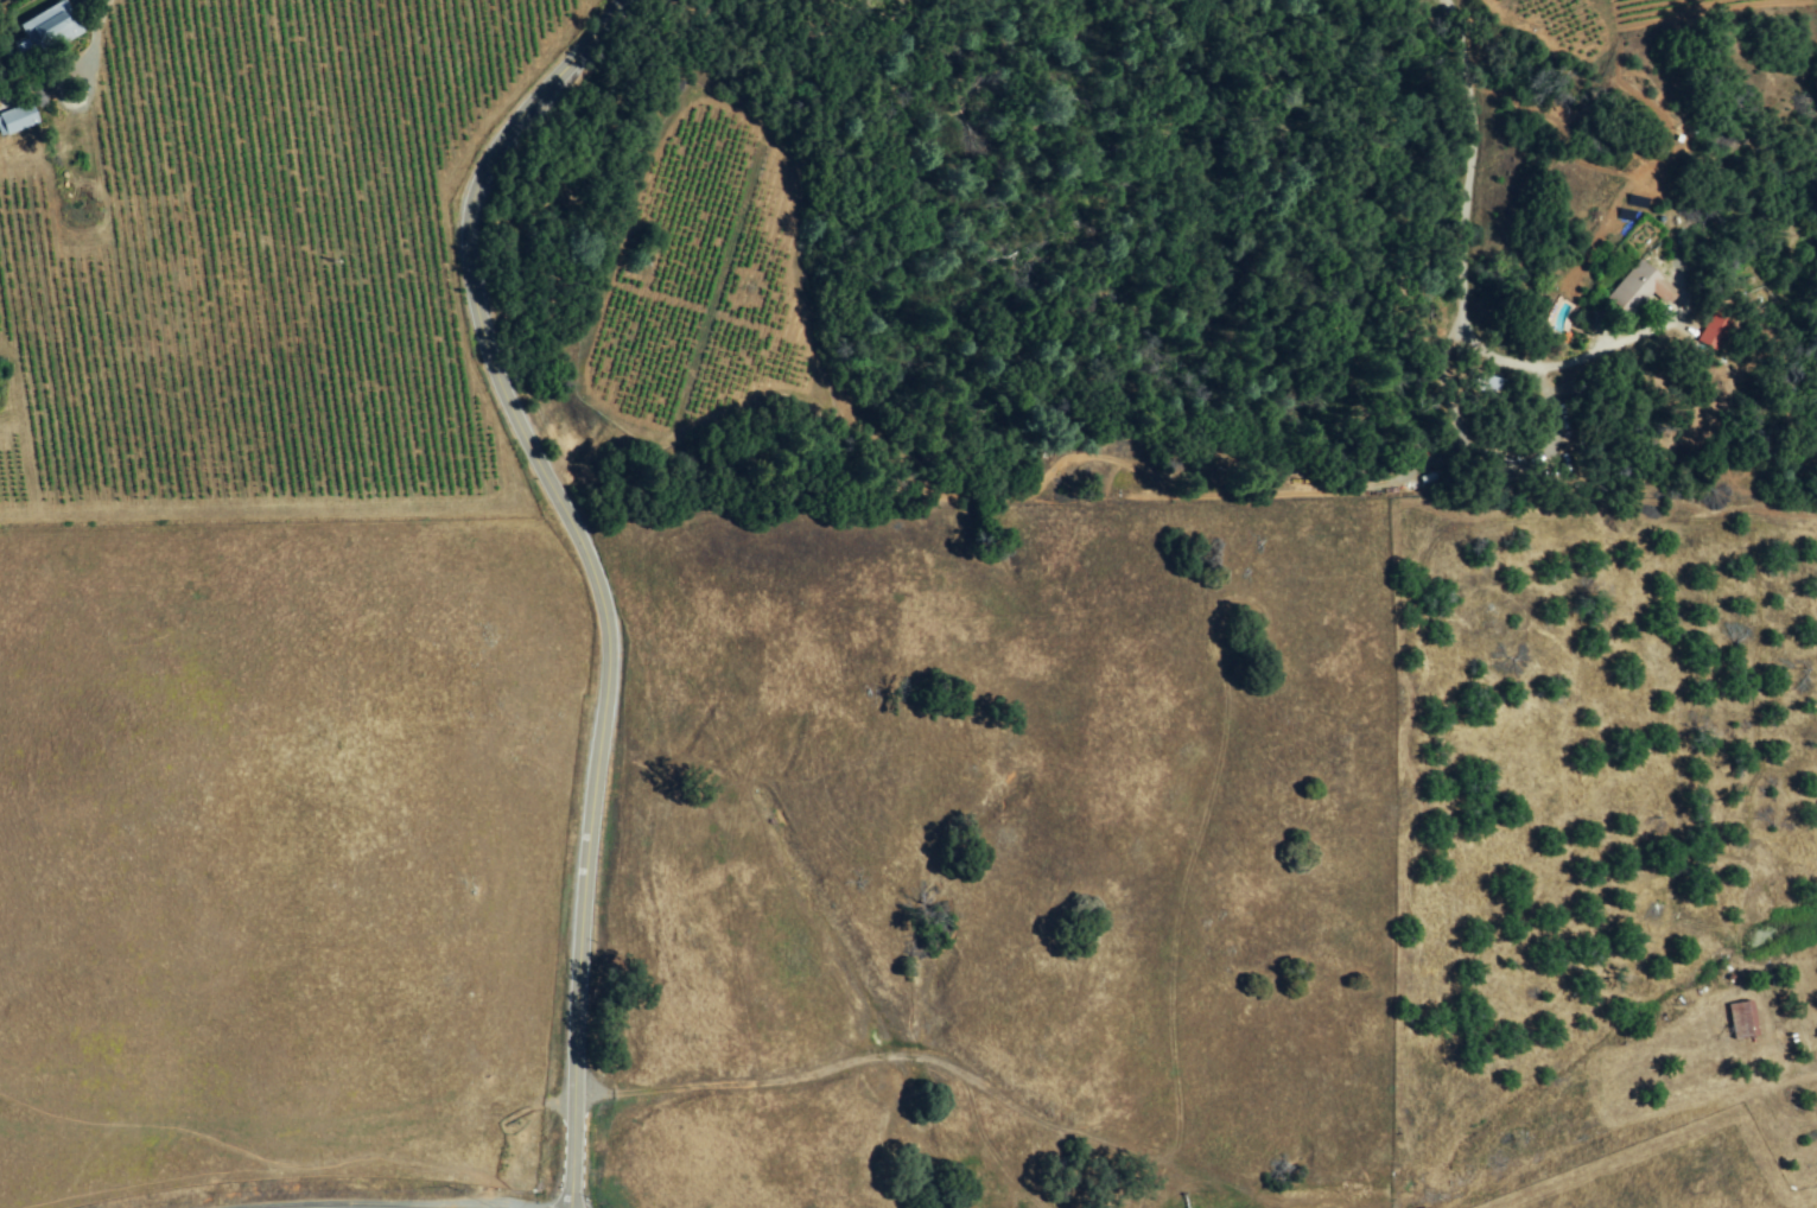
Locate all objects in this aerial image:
building: (45, 24)
road: (100, 24)
building: (15, 119)
road: (1474, 163)
building: (1637, 288)
building: (1710, 332)
road: (1533, 462)
road: (589, 567)
building: (1740, 1019)
road: (1815, 1061)

